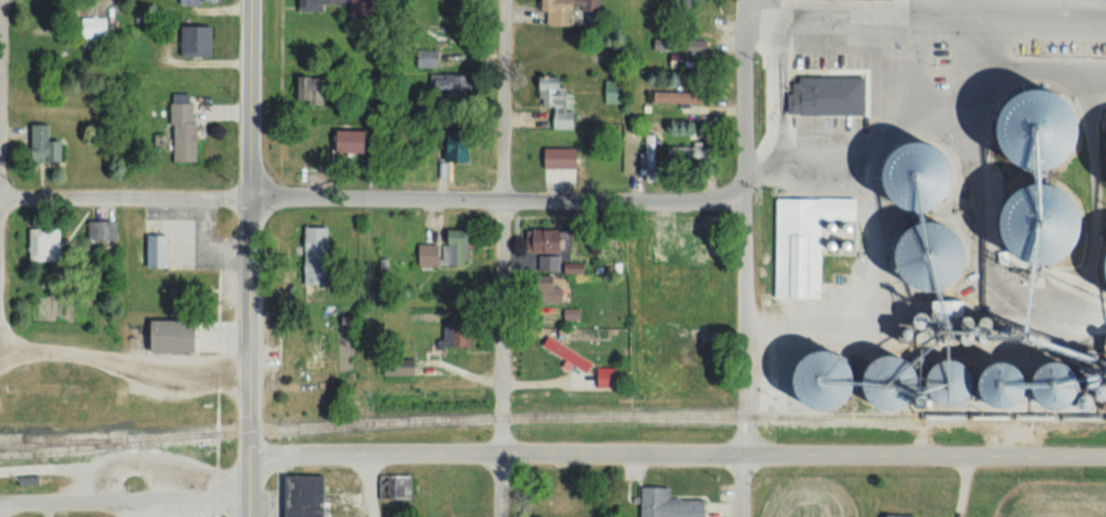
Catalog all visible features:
road: (937, 0)
building: (202, 2)
building: (326, 3)
building: (678, 4)
building: (572, 10)
road: (903, 21)
building: (98, 26)
road: (885, 40)
road: (0, 41)
building: (201, 41)
building: (674, 46)
building: (455, 85)
building: (316, 89)
road: (853, 95)
building: (814, 96)
building: (671, 97)
building: (561, 100)
road: (785, 101)
road: (939, 121)
parking lot: (813, 125)
building: (189, 127)
building: (359, 141)
building: (48, 144)
building: (464, 145)
building: (645, 149)
building: (689, 152)
building: (531, 158)
building: (1043, 163)
building: (560, 165)
road: (497, 202)
road: (123, 203)
building: (1043, 206)
building: (106, 230)
building: (47, 239)
building: (556, 240)
building: (675, 243)
building: (802, 248)
building: (1043, 248)
building: (450, 249)
building: (160, 251)
building: (321, 254)
building: (893, 254)
storage tank: (935, 254)
road: (248, 258)
road: (500, 258)
road: (746, 258)
building: (552, 263)
building: (578, 316)
building: (960, 323)
storage tank: (1006, 323)
storage tank: (1024, 323)
building: (463, 334)
building: (179, 335)
road: (2, 336)
storage tank: (1004, 337)
storage tank: (1023, 337)
road: (2, 344)
building: (569, 352)
building: (681, 357)
storage tank: (1082, 357)
storage tank: (1096, 357)
building: (401, 366)
building: (1028, 368)
road: (124, 371)
building: (1066, 372)
storage tank: (1081, 374)
storage tank: (1098, 374)
building: (611, 377)
storage tank: (893, 380)
storage tank: (825, 381)
storage tank: (965, 382)
building: (1099, 389)
railway: (552, 418)
railway: (23, 441)
road: (495, 455)
road: (924, 457)
road: (373, 485)
building: (397, 486)
building: (308, 496)
road: (122, 498)
building: (583, 503)
building: (675, 504)
road: (120, 508)
building: (890, 516)

